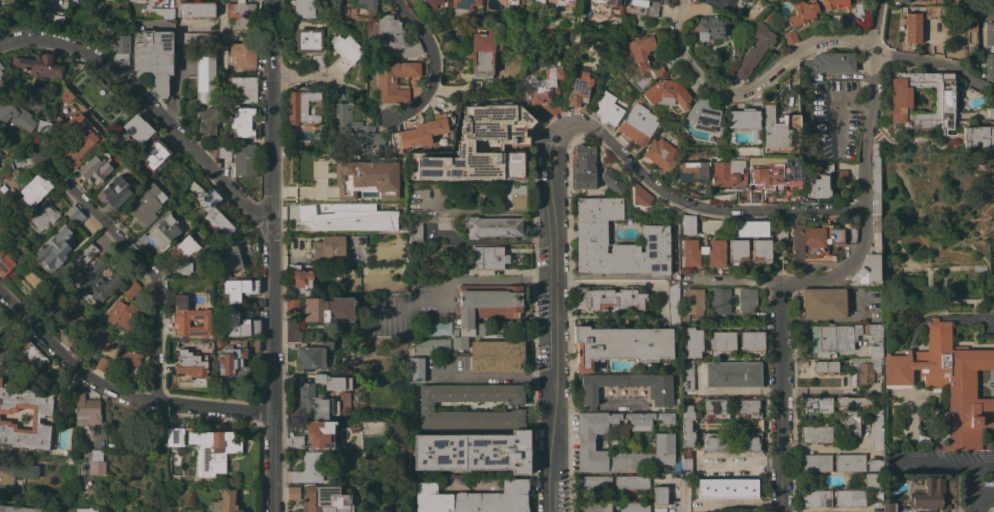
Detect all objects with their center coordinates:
building: (136, 0)
road: (160, 0)
building: (917, 0)
building: (512, 1)
building: (899, 1)
building: (957, 2)
building: (432, 3)
building: (464, 3)
building: (561, 3)
building: (607, 3)
building: (831, 3)
building: (932, 3)
building: (728, 5)
building: (643, 6)
building: (365, 7)
building: (196, 8)
building: (304, 8)
building: (802, 11)
building: (933, 12)
building: (161, 13)
building: (970, 13)
building: (52, 14)
building: (241, 14)
building: (990, 16)
building: (127, 23)
building: (710, 27)
building: (913, 28)
building: (791, 36)
building: (194, 38)
building: (308, 40)
building: (394, 40)
building: (121, 48)
building: (755, 49)
building: (974, 49)
building: (346, 50)
building: (989, 51)
building: (483, 53)
building: (243, 54)
building: (643, 54)
building: (153, 57)
building: (317, 60)
road: (935, 61)
building: (829, 63)
building: (38, 65)
building: (1, 66)
road: (433, 67)
building: (1, 74)
road: (302, 77)
building: (205, 78)
building: (394, 80)
building: (579, 87)
building: (243, 89)
building: (544, 89)
road: (746, 92)
building: (667, 93)
building: (900, 97)
building: (301, 106)
road: (146, 107)
building: (608, 108)
road: (838, 110)
building: (990, 111)
building: (703, 114)
building: (16, 117)
building: (743, 118)
building: (242, 121)
building: (207, 122)
building: (43, 126)
building: (637, 126)
building: (137, 127)
building: (357, 128)
building: (777, 130)
building: (422, 131)
building: (979, 136)
building: (59, 140)
building: (513, 141)
building: (157, 150)
building: (224, 154)
building: (659, 154)
building: (244, 159)
building: (585, 166)
building: (94, 169)
building: (692, 171)
building: (727, 172)
building: (777, 172)
building: (841, 172)
road: (865, 172)
building: (368, 177)
building: (613, 181)
building: (814, 188)
building: (34, 190)
building: (116, 191)
building: (640, 195)
building: (743, 195)
building: (203, 196)
building: (511, 196)
building: (755, 196)
building: (146, 204)
road: (702, 205)
building: (70, 210)
road: (490, 210)
building: (41, 216)
building: (77, 217)
building: (345, 219)
building: (445, 222)
building: (218, 223)
building: (688, 224)
building: (492, 226)
building: (872, 226)
building: (749, 229)
building: (1, 230)
building: (162, 231)
building: (415, 231)
building: (591, 232)
road: (494, 240)
building: (356, 241)
building: (819, 241)
building: (54, 246)
building: (329, 246)
building: (184, 247)
building: (206, 247)
building: (738, 249)
building: (762, 250)
building: (703, 252)
building: (85, 254)
building: (237, 254)
road: (271, 255)
building: (488, 256)
road: (140, 260)
building: (5, 262)
building: (181, 268)
building: (979, 268)
road: (453, 278)
building: (299, 280)
building: (97, 282)
road: (594, 282)
building: (410, 284)
building: (130, 288)
building: (238, 288)
road: (660, 289)
building: (609, 298)
building: (720, 300)
building: (748, 302)
building: (692, 303)
building: (824, 303)
building: (486, 305)
building: (673, 307)
building: (329, 309)
building: (123, 315)
road: (556, 315)
road: (978, 315)
building: (188, 319)
building: (447, 320)
building: (239, 325)
building: (292, 330)
building: (455, 333)
building: (833, 338)
building: (874, 338)
building: (95, 340)
building: (723, 341)
building: (752, 341)
building: (459, 342)
building: (251, 343)
building: (694, 343)
building: (431, 345)
building: (621, 345)
building: (32, 355)
building: (312, 356)
building: (496, 356)
building: (128, 357)
building: (233, 361)
building: (190, 363)
building: (102, 364)
building: (825, 367)
building: (416, 369)
building: (864, 370)
building: (733, 374)
road: (492, 377)
building: (686, 378)
building: (329, 381)
building: (948, 382)
road: (117, 393)
building: (660, 393)
road: (779, 396)
building: (852, 401)
building: (888, 402)
building: (312, 403)
building: (426, 406)
building: (816, 406)
road: (618, 407)
building: (747, 407)
road: (570, 408)
road: (590, 408)
building: (715, 408)
building: (86, 410)
building: (42, 413)
building: (851, 423)
building: (688, 425)
building: (876, 429)
building: (320, 433)
building: (816, 433)
building: (174, 437)
building: (922, 439)
building: (295, 441)
building: (715, 442)
building: (747, 442)
building: (664, 443)
road: (822, 448)
building: (212, 450)
building: (473, 452)
road: (941, 459)
building: (686, 462)
building: (815, 462)
building: (849, 462)
building: (874, 465)
building: (96, 467)
building: (309, 468)
building: (15, 473)
building: (873, 480)
road: (974, 480)
building: (593, 482)
building: (631, 482)
building: (727, 488)
building: (927, 492)
building: (293, 493)
building: (659, 495)
road: (684, 497)
building: (816, 498)
building: (850, 498)
building: (327, 499)
building: (473, 499)
road: (987, 500)
building: (225, 502)
building: (889, 505)
building: (631, 506)
road: (979, 506)
building: (593, 507)
building: (86, 508)
building: (20, 509)
building: (658, 509)
building: (189, 510)

